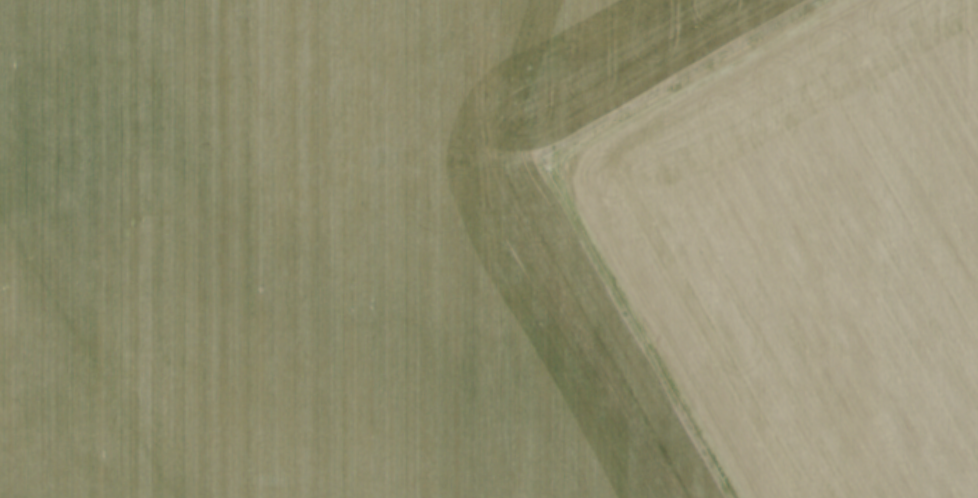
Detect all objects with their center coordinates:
airport: (798, 246)
crop: (318, 250)

